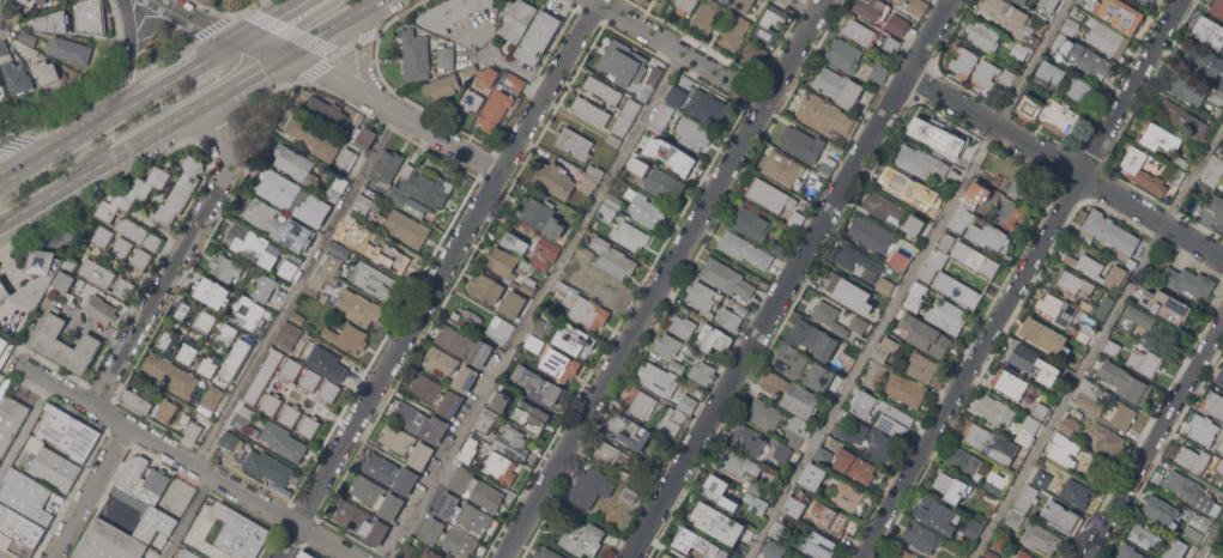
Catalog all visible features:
building: (1096, 0)
building: (44, 1)
building: (1022, 1)
building: (1148, 1)
building: (26, 2)
building: (743, 4)
building: (1049, 4)
building: (685, 5)
building: (913, 6)
road: (805, 7)
building: (1217, 7)
building: (873, 8)
building: (453, 12)
building: (1121, 14)
building: (13, 16)
building: (708, 16)
building: (1039, 16)
building: (91, 17)
building: (516, 19)
building: (1011, 19)
building: (55, 20)
road: (276, 20)
building: (770, 23)
building: (897, 24)
road: (340, 26)
building: (1071, 26)
building: (1211, 29)
building: (734, 31)
building: (859, 31)
building: (983, 35)
building: (539, 36)
building: (28, 37)
building: (1107, 37)
building: (892, 44)
building: (1059, 47)
building: (71, 49)
building: (30, 50)
building: (1021, 50)
road: (680, 51)
building: (753, 51)
building: (414, 54)
road: (133, 55)
building: (446, 55)
building: (844, 55)
road: (368, 56)
building: (1203, 57)
building: (1090, 60)
road: (1029, 61)
building: (623, 62)
building: (964, 62)
building: (470, 68)
building: (14, 71)
building: (47, 71)
building: (880, 73)
building: (986, 74)
road: (333, 75)
building: (1051, 75)
building: (488, 77)
building: (1007, 77)
building: (650, 84)
building: (1221, 85)
building: (442, 86)
building: (838, 86)
building: (1187, 86)
building: (1, 87)
building: (1079, 89)
building: (604, 90)
building: (676, 95)
building: (1217, 96)
building: (473, 99)
building: (501, 99)
road: (204, 105)
building: (708, 108)
building: (591, 110)
road: (120, 113)
building: (328, 113)
building: (827, 114)
building: (1052, 114)
building: (626, 116)
building: (661, 116)
building: (1187, 120)
building: (694, 132)
building: (1158, 135)
building: (314, 137)
building: (364, 137)
building: (937, 137)
building: (613, 140)
building: (574, 142)
building: (803, 144)
road: (23, 146)
building: (672, 154)
building: (1219, 154)
building: (347, 159)
building: (1181, 160)
building: (921, 162)
building: (296, 164)
building: (637, 164)
building: (827, 165)
road: (1065, 166)
building: (387, 168)
building: (781, 168)
building: (1213, 171)
building: (1143, 172)
building: (1176, 175)
building: (591, 178)
building: (998, 178)
building: (555, 180)
building: (664, 184)
building: (907, 184)
building: (335, 187)
building: (181, 190)
building: (419, 190)
building: (1027, 192)
road: (59, 193)
building: (133, 193)
building: (770, 195)
building: (292, 196)
building: (614, 200)
building: (970, 200)
building: (367, 204)
building: (883, 205)
building: (647, 208)
building: (1212, 208)
building: (926, 210)
building: (607, 212)
building: (1011, 213)
building: (540, 214)
building: (797, 219)
building: (752, 223)
building: (278, 224)
building: (913, 226)
building: (407, 228)
building: (983, 232)
building: (140, 233)
building: (871, 233)
building: (1110, 233)
building: (630, 235)
building: (103, 236)
building: (249, 241)
building: (122, 247)
building: (376, 248)
building: (533, 248)
building: (339, 249)
building: (745, 249)
building: (779, 249)
building: (586, 253)
building: (938, 256)
building: (141, 257)
road: (181, 257)
building: (613, 257)
building: (975, 259)
building: (900, 260)
building: (502, 261)
building: (856, 262)
building: (71, 263)
building: (332, 263)
building: (290, 265)
building: (526, 265)
building: (226, 266)
building: (1098, 269)
building: (575, 271)
building: (98, 273)
road: (666, 278)
building: (726, 278)
road: (1022, 278)
road: (788, 279)
building: (321, 280)
road: (438, 280)
building: (510, 280)
building: (65, 281)
building: (376, 281)
building: (1073, 281)
building: (1189, 281)
building: (37, 285)
building: (528, 285)
building: (885, 285)
building: (265, 286)
building: (486, 286)
building: (125, 287)
building: (563, 287)
building: (603, 287)
road: (298, 289)
building: (958, 290)
building: (214, 291)
building: (848, 291)
building: (915, 296)
building: (702, 297)
building: (569, 301)
building: (514, 303)
road: (534, 305)
building: (1167, 305)
building: (357, 307)
building: (1100, 307)
building: (1058, 308)
building: (101, 309)
building: (741, 309)
building: (183, 310)
building: (249, 313)
building: (588, 313)
building: (946, 314)
building: (830, 316)
building: (297, 317)
building: (729, 319)
building: (1139, 320)
building: (206, 322)
building: (859, 323)
building: (683, 326)
building: (501, 328)
building: (543, 328)
building: (1083, 332)
building: (925, 334)
building: (228, 335)
building: (289, 335)
building: (349, 336)
building: (1047, 336)
building: (715, 338)
building: (1149, 338)
building: (575, 339)
building: (813, 339)
building: (168, 340)
road: (872, 341)
building: (534, 342)
road: (1098, 344)
building: (66, 345)
building: (465, 345)
building: (674, 346)
building: (1113, 347)
building: (5, 348)
building: (884, 348)
building: (849, 351)
building: (188, 353)
building: (236, 359)
building: (661, 360)
building: (1145, 362)
building: (328, 363)
building: (1034, 363)
building: (561, 364)
building: (210, 365)
building: (677, 365)
building: (921, 366)
building: (452, 368)
building: (789, 368)
building: (291, 369)
building: (703, 371)
building: (0, 374)
street lamp: (371, 374)
building: (171, 375)
building: (262, 376)
building: (1221, 377)
building: (658, 378)
building: (310, 380)
building: (1126, 382)
building: (1010, 383)
building: (895, 384)
building: (541, 386)
building: (329, 390)
building: (436, 394)
building: (792, 394)
building: (1089, 398)
building: (211, 399)
building: (137, 400)
building: (501, 401)
building: (641, 401)
building: (686, 401)
building: (271, 404)
building: (1213, 404)
building: (167, 408)
building: (1041, 410)
building: (995, 411)
building: (882, 412)
building: (291, 414)
building: (765, 414)
building: (10, 416)
building: (532, 416)
building: (1122, 416)
building: (243, 417)
building: (843, 417)
building: (486, 420)
building: (673, 420)
building: (420, 421)
road: (25, 425)
building: (1068, 425)
building: (310, 426)
building: (194, 429)
building: (1204, 429)
building: (628, 431)
building: (798, 431)
building: (855, 431)
building: (1028, 431)
building: (68, 433)
building: (1107, 439)
building: (284, 441)
building: (752, 441)
building: (513, 442)
road: (1154, 442)
building: (992, 443)
building: (407, 444)
building: (883, 445)
building: (1221, 448)
building: (1064, 449)
building: (470, 450)
building: (609, 451)
building: (782, 453)
building: (823, 455)
road: (187, 459)
building: (1193, 459)
building: (254, 460)
building: (964, 460)
building: (739, 462)
building: (49, 465)
building: (1219, 465)
building: (501, 466)
building: (855, 466)
building: (390, 473)
building: (624, 474)
building: (813, 477)
building: (1042, 478)
building: (145, 480)
building: (999, 483)
building: (591, 486)
building: (953, 486)
building: (755, 487)
building: (477, 489)
road: (91, 491)
building: (719, 491)
building: (1191, 491)
building: (1076, 492)
building: (629, 495)
building: (847, 495)
building: (26, 496)
building: (377, 496)
building: (1027, 498)
building: (756, 503)
building: (795, 507)
building: (1162, 510)
building: (464, 511)
building: (938, 514)
road: (188, 515)
building: (147, 516)
building: (830, 517)
building: (1015, 517)
building: (1064, 517)
building: (1199, 520)
building: (362, 522)
building: (718, 522)
building: (780, 527)
building: (974, 528)
building: (20, 530)
building: (240, 533)
building: (1192, 534)
building: (1144, 535)
building: (924, 536)
road: (1210, 536)
building: (448, 538)
building: (583, 538)
building: (1041, 538)
building: (110, 542)
building: (702, 545)
building: (818, 545)
building: (1003, 545)
building: (1176, 548)
building: (773, 550)
building: (1130, 551)
building: (188, 553)
building: (431, 553)
building: (547, 553)
building: (902, 553)
building: (758, 554)
building: (989, 554)
building: (1025, 554)
building: (308, 556)
building: (667, 556)
building: (661, 557)
building: (799, 557)
building: (803, 557)
building: (1206, 557)

